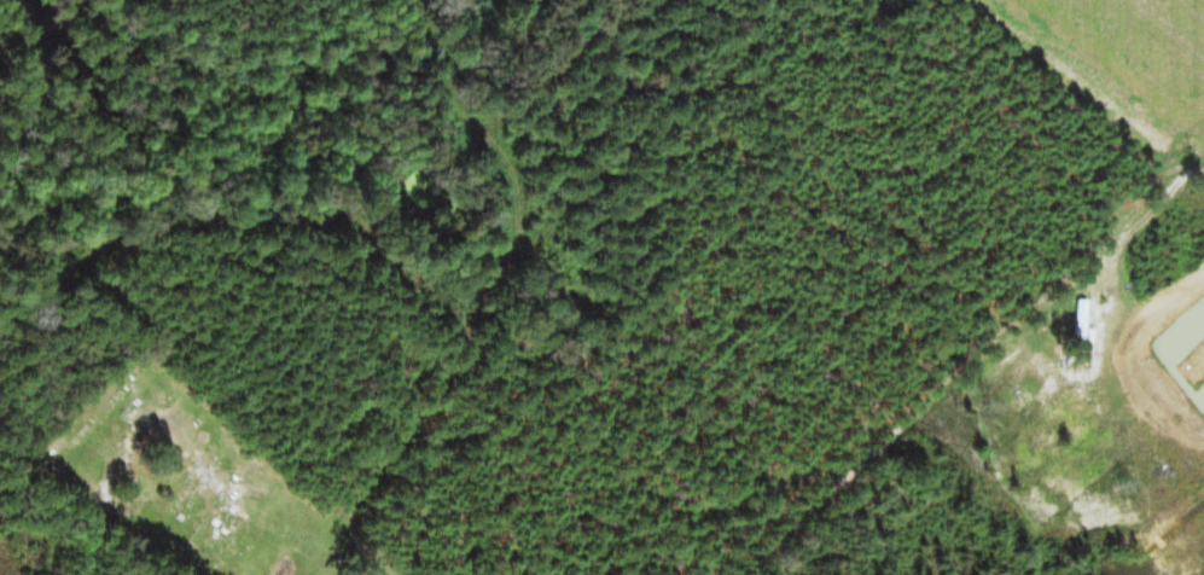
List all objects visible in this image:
road: (1095, 99)
road: (745, 539)

